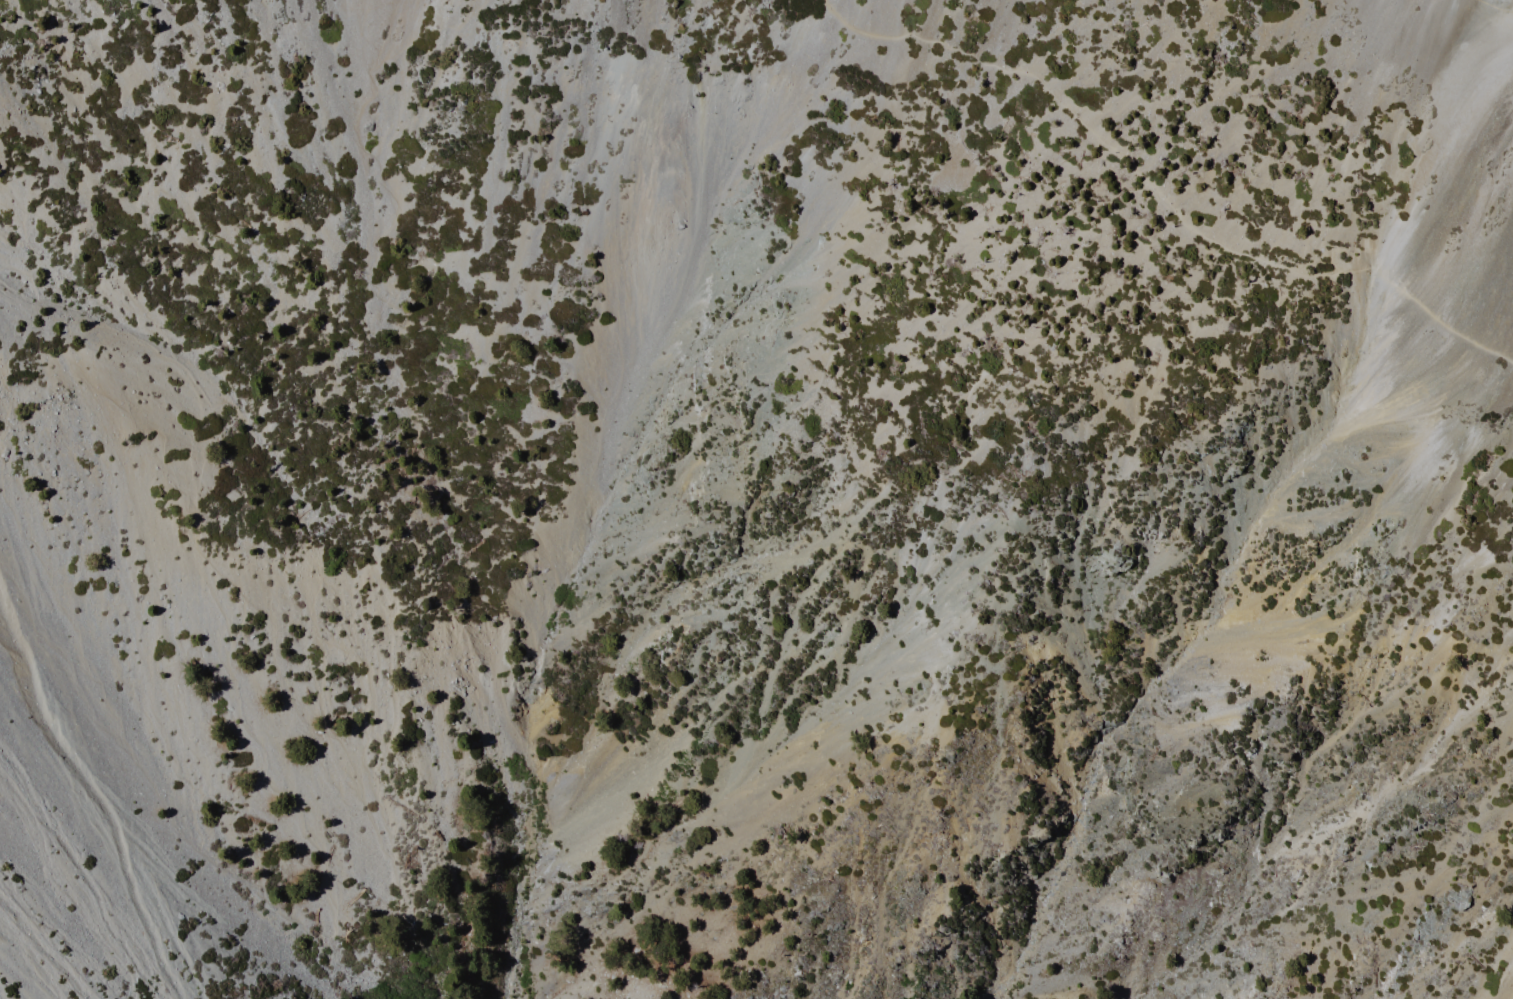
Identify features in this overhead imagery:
road: (1500, 5)
road: (1160, 194)

